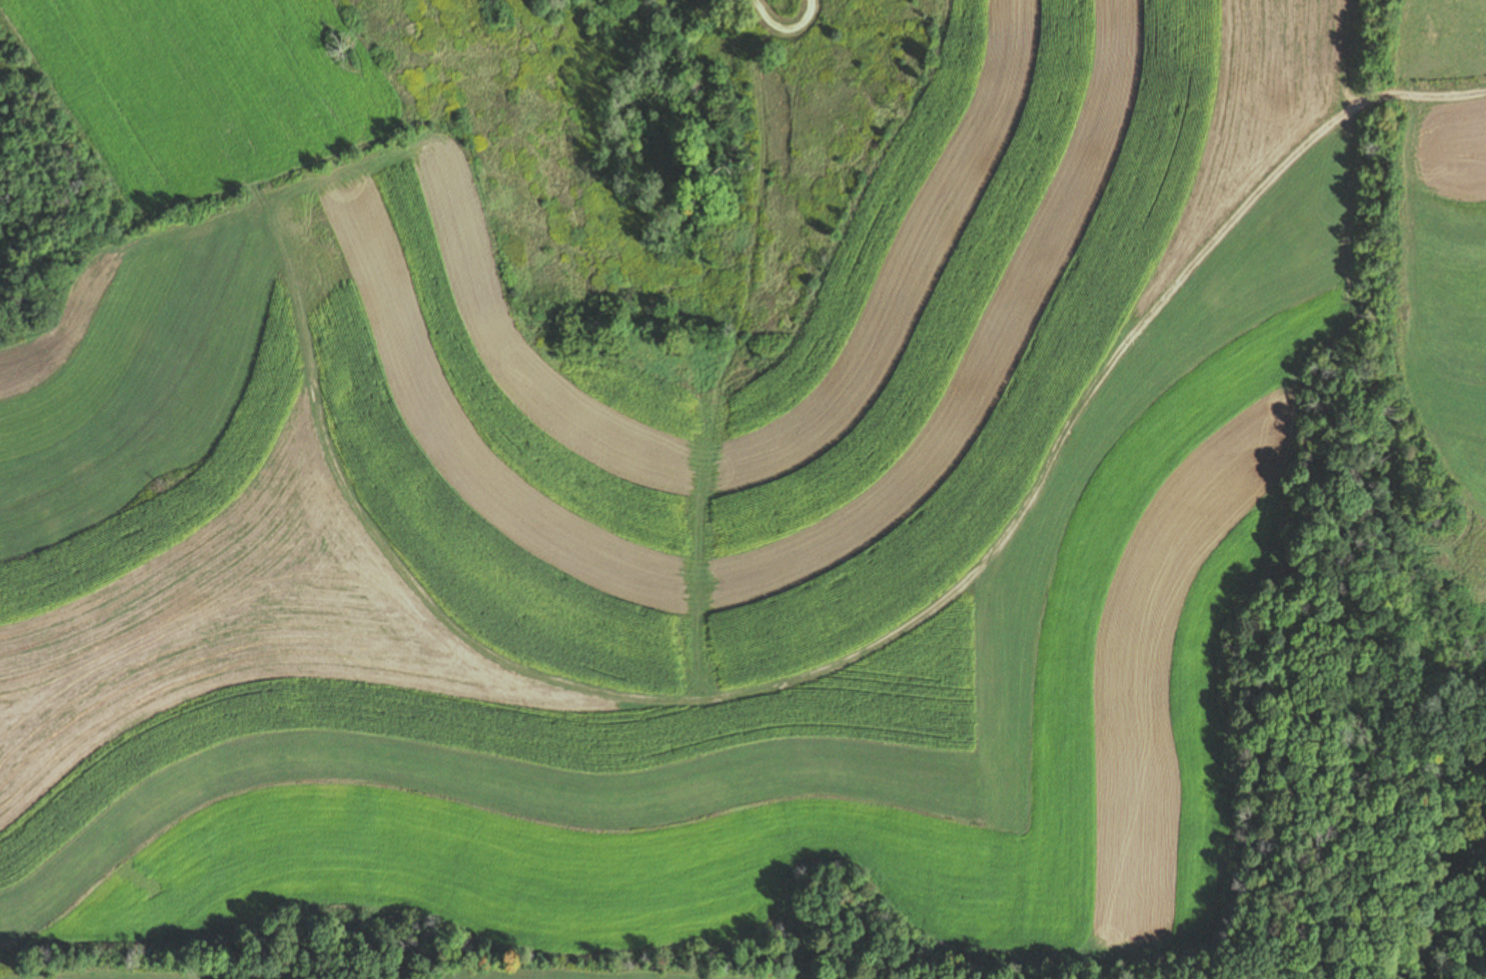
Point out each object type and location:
road: (782, 30)

